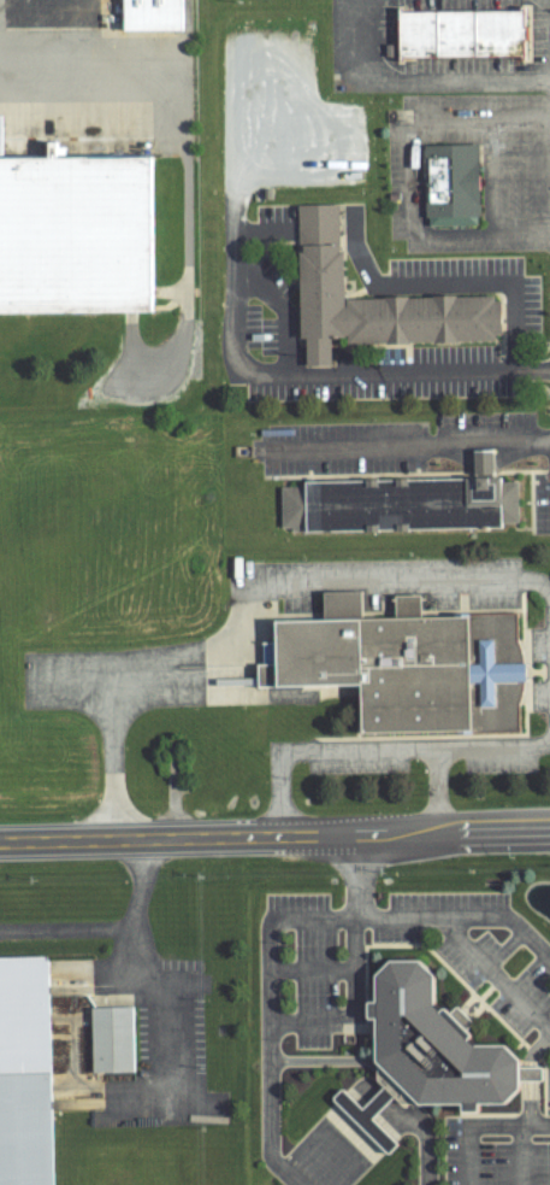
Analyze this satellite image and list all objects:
building: (154, 14)
road: (549, 18)
building: (466, 33)
road: (118, 66)
road: (415, 74)
road: (493, 174)
road: (410, 176)
building: (453, 182)
building: (78, 235)
building: (325, 272)
road: (232, 276)
road: (445, 283)
road: (419, 370)
road: (409, 439)
building: (400, 500)
road: (408, 580)
road: (125, 665)
building: (408, 667)
road: (380, 749)
road: (434, 791)
road: (274, 835)
road: (463, 908)
road: (289, 919)
road: (67, 926)
road: (141, 966)
road: (312, 966)
road: (491, 966)
road: (354, 1010)
building: (457, 1017)
building: (114, 1038)
building: (432, 1046)
road: (314, 1060)
road: (525, 1070)
building: (25, 1073)
road: (533, 1077)
road: (371, 1085)
road: (398, 1090)
building: (365, 1116)
road: (477, 1121)
road: (271, 1127)
road: (326, 1127)
road: (333, 1133)
road: (339, 1139)
road: (349, 1144)
road: (360, 1148)
road: (368, 1150)
road: (377, 1152)
road: (521, 1152)

